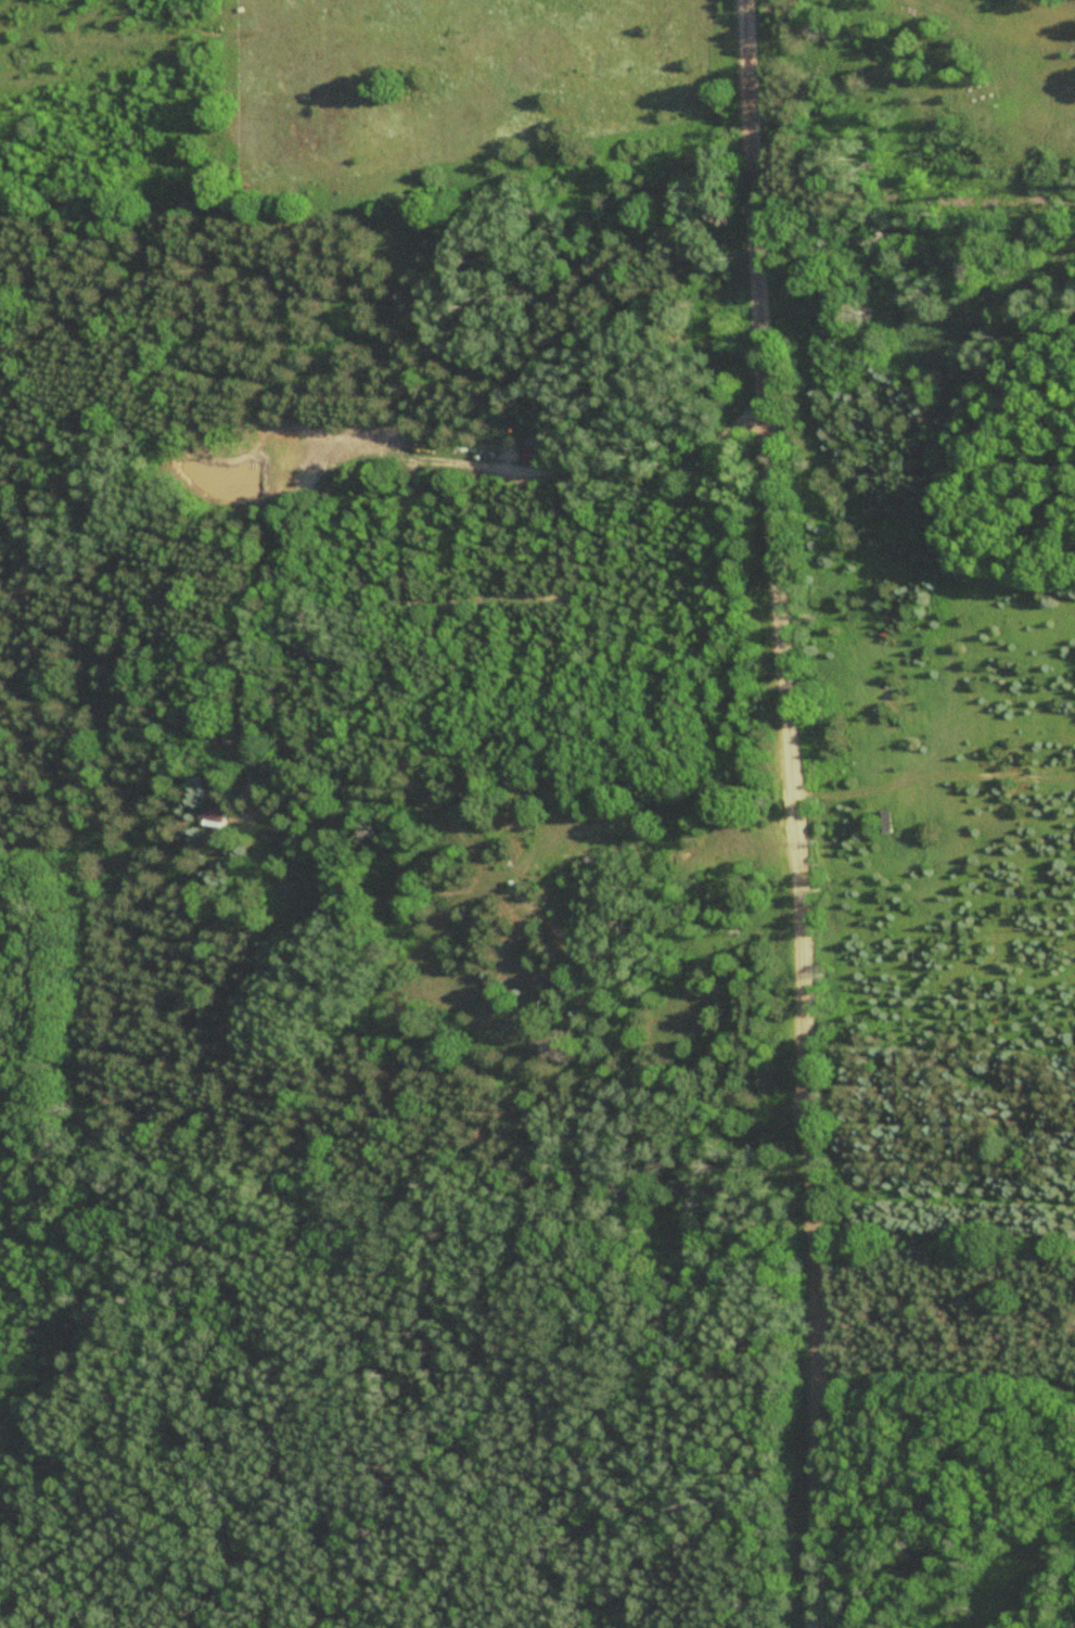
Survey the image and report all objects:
road: (793, 813)
building: (220, 815)
building: (887, 821)

